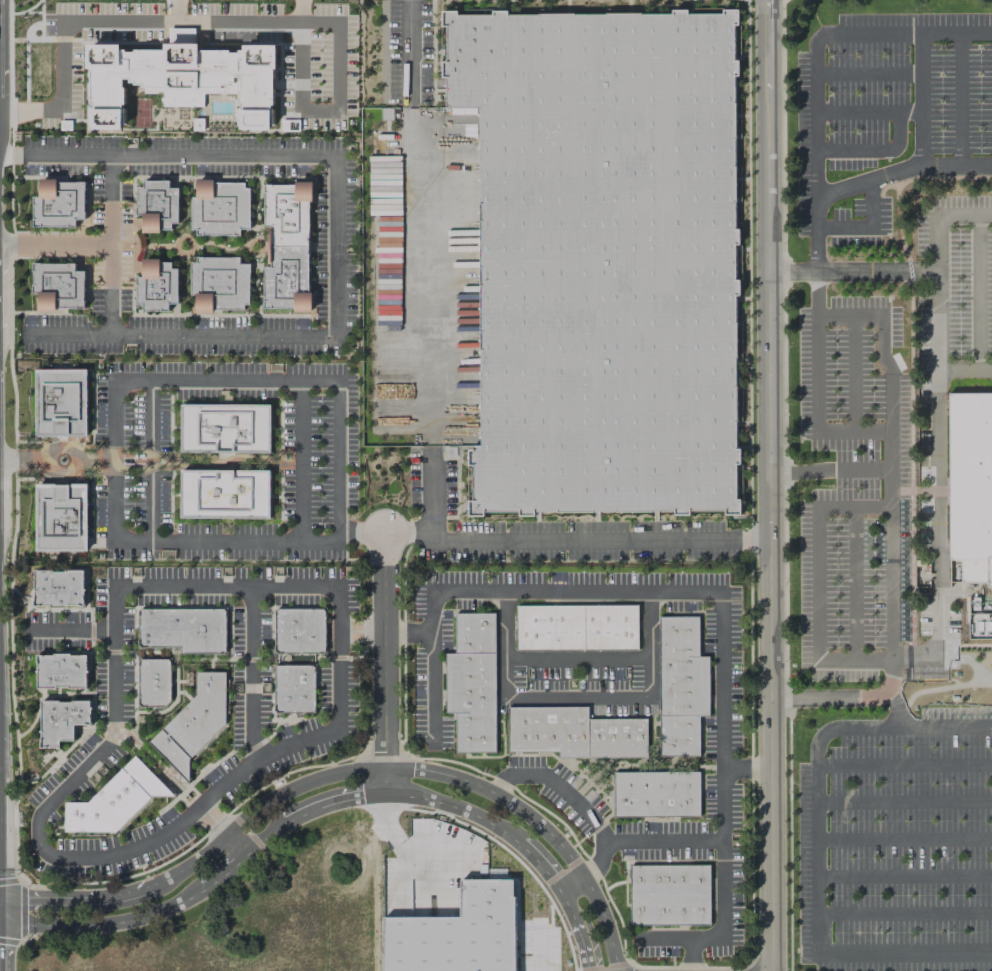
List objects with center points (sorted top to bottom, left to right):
road: (172, 12)
road: (103, 23)
road: (823, 34)
road: (331, 39)
road: (410, 53)
road: (867, 73)
building: (181, 77)
road: (919, 98)
road: (958, 99)
road: (867, 112)
parking lot: (882, 113)
road: (873, 150)
road: (66, 154)
road: (29, 165)
road: (200, 166)
road: (302, 166)
road: (313, 179)
road: (867, 181)
road: (192, 183)
road: (259, 187)
building: (58, 203)
building: (156, 205)
building: (219, 207)
road: (938, 216)
road: (137, 222)
road: (866, 227)
road: (121, 232)
road: (183, 237)
road: (252, 239)
road: (55, 245)
road: (13, 246)
road: (142, 246)
building: (287, 246)
road: (220, 247)
road: (336, 247)
building: (603, 259)
road: (137, 268)
road: (853, 271)
road: (131, 279)
road: (417, 280)
road: (255, 283)
building: (219, 284)
building: (156, 285)
building: (57, 286)
parking lot: (954, 287)
road: (977, 292)
road: (816, 293)
road: (191, 308)
road: (28, 323)
road: (198, 325)
road: (301, 326)
road: (68, 334)
road: (883, 360)
road: (965, 369)
road: (911, 373)
road: (853, 374)
building: (60, 402)
building: (225, 428)
road: (53, 450)
road: (93, 459)
road: (150, 459)
road: (339, 459)
road: (24, 460)
fountain: (61, 460)
road: (301, 461)
road: (862, 468)
road: (802, 469)
building: (970, 484)
road: (770, 485)
road: (938, 488)
road: (933, 490)
road: (902, 491)
building: (224, 494)
parking lot: (857, 499)
building: (61, 517)
road: (361, 531)
road: (407, 535)
road: (557, 537)
road: (816, 583)
road: (854, 583)
building: (58, 588)
road: (159, 588)
road: (144, 607)
road: (55, 609)
road: (239, 615)
road: (720, 616)
road: (980, 623)
road: (271, 625)
road: (123, 626)
building: (576, 627)
building: (183, 629)
road: (68, 630)
road: (70, 630)
road: (91, 630)
building: (299, 630)
road: (260, 631)
road: (360, 632)
road: (964, 645)
road: (117, 651)
road: (81, 652)
road: (96, 652)
road: (363, 652)
building: (176, 655)
road: (968, 655)
road: (338, 657)
road: (578, 657)
road: (236, 659)
road: (257, 659)
building: (272, 659)
road: (316, 663)
road: (384, 663)
road: (210, 665)
building: (60, 671)
road: (251, 676)
road: (123, 677)
building: (187, 678)
road: (952, 679)
road: (177, 681)
building: (472, 682)
building: (154, 683)
building: (680, 685)
road: (432, 686)
building: (294, 689)
road: (57, 691)
road: (183, 693)
road: (134, 696)
road: (69, 697)
road: (577, 698)
road: (844, 698)
road: (895, 707)
road: (271, 710)
building: (139, 719)
building: (61, 720)
building: (193, 722)
road: (277, 725)
road: (14, 726)
road: (854, 728)
road: (86, 729)
building: (574, 733)
road: (287, 734)
road: (92, 741)
road: (253, 746)
road: (17, 759)
road: (110, 760)
road: (904, 764)
road: (746, 766)
road: (342, 772)
road: (201, 773)
building: (32, 777)
road: (213, 779)
road: (83, 787)
building: (655, 794)
building: (114, 800)
road: (904, 802)
road: (321, 806)
road: (169, 818)
road: (598, 827)
road: (904, 839)
road: (237, 844)
parking lot: (897, 844)
road: (596, 859)
road: (904, 876)
road: (570, 884)
building: (668, 894)
road: (905, 913)
building: (457, 929)
road: (847, 954)
road: (689, 955)

